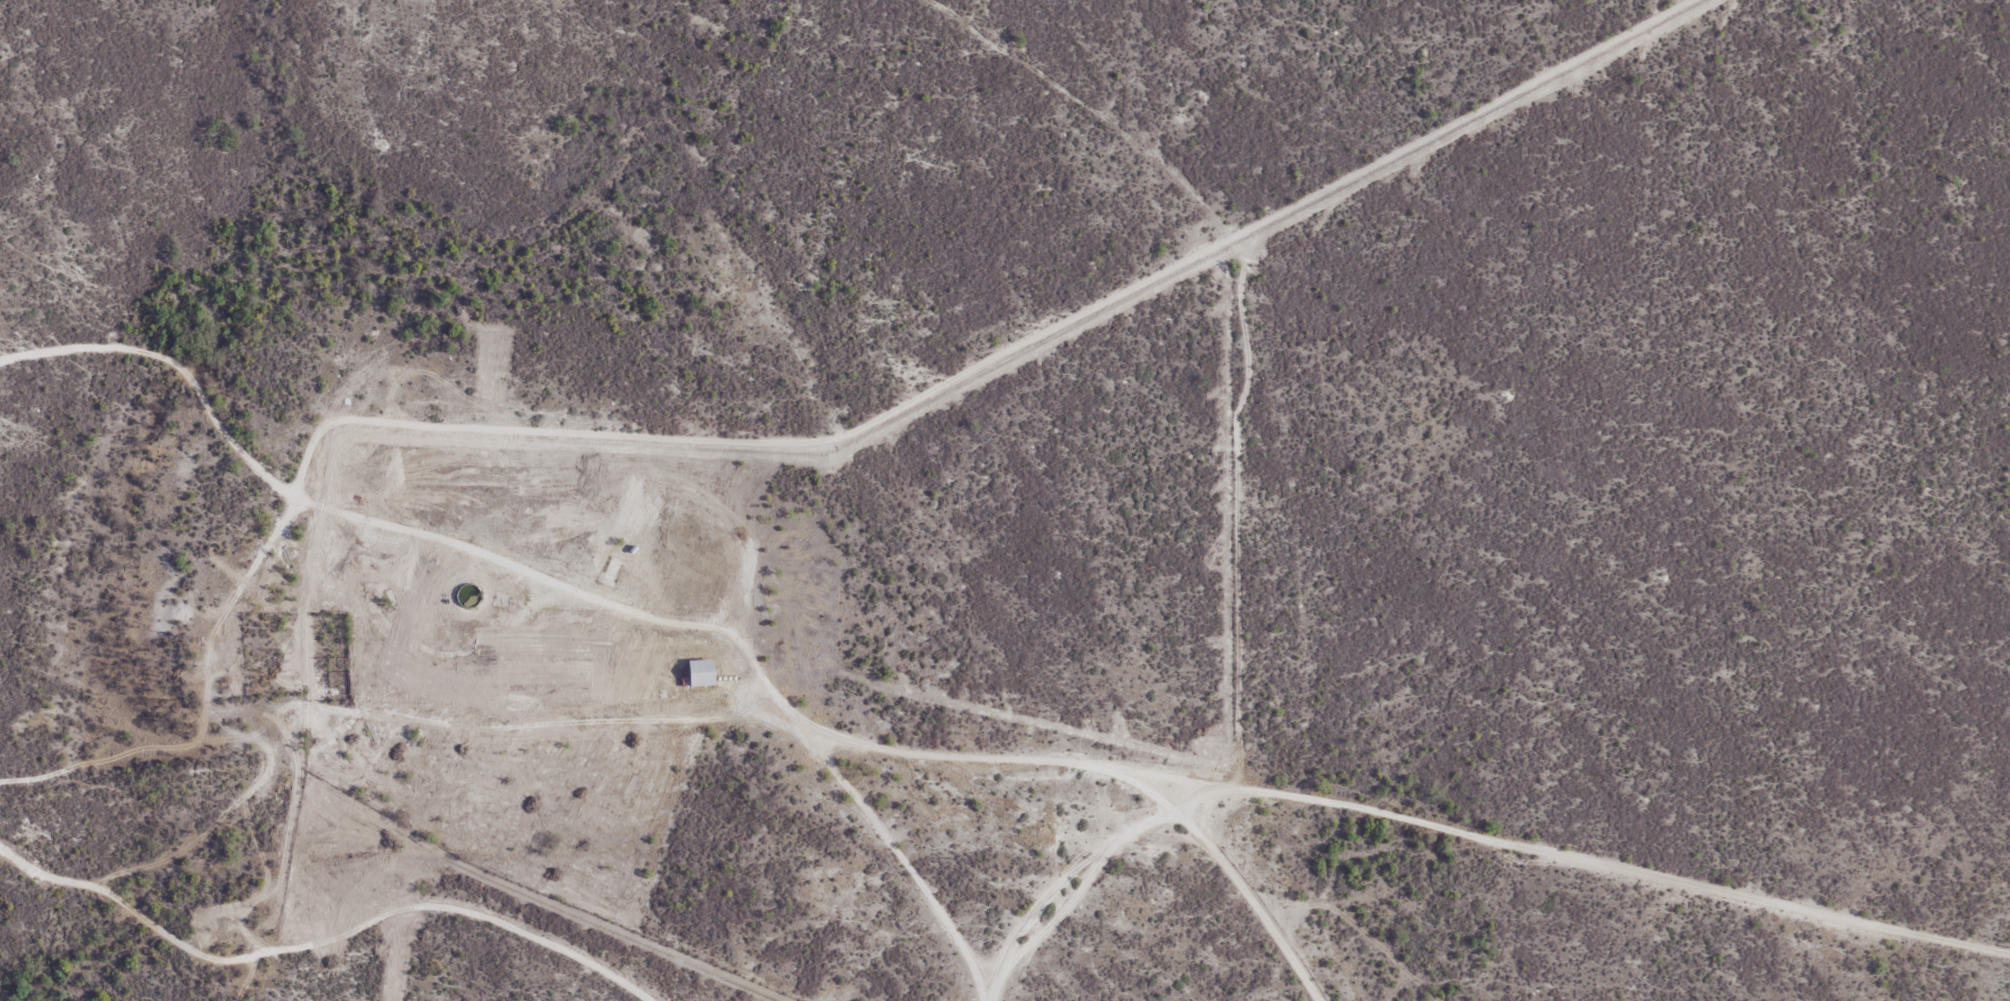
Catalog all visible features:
building: (568, 550)
building: (614, 569)
building: (502, 599)
building: (699, 674)
road: (525, 727)
road: (944, 763)
road: (1235, 875)
road: (1099, 878)

